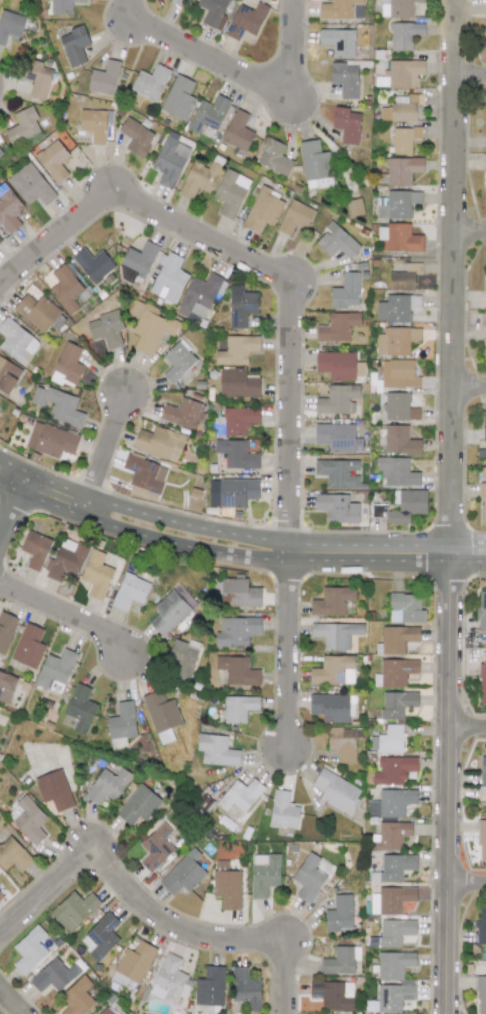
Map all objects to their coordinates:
building: (61, 6)
building: (398, 8)
building: (341, 9)
building: (213, 12)
building: (246, 20)
building: (10, 25)
building: (404, 35)
building: (338, 42)
building: (74, 45)
road: (245, 74)
building: (400, 74)
road: (472, 74)
building: (37, 78)
building: (104, 78)
building: (345, 79)
building: (149, 82)
building: (178, 98)
building: (401, 108)
building: (209, 114)
building: (93, 124)
building: (346, 124)
building: (22, 126)
building: (237, 131)
building: (136, 137)
building: (403, 138)
building: (0, 154)
building: (273, 157)
building: (53, 160)
building: (170, 160)
building: (485, 163)
building: (315, 165)
building: (402, 170)
building: (198, 179)
building: (30, 185)
building: (230, 192)
building: (485, 197)
building: (398, 204)
building: (262, 210)
building: (9, 211)
building: (295, 217)
road: (471, 228)
building: (399, 237)
building: (0, 240)
building: (336, 241)
building: (139, 257)
road: (260, 258)
building: (93, 264)
building: (485, 265)
building: (404, 277)
building: (169, 279)
building: (67, 290)
building: (346, 291)
building: (199, 295)
building: (485, 297)
building: (241, 306)
building: (396, 308)
building: (37, 311)
building: (337, 327)
building: (106, 328)
building: (152, 328)
building: (485, 336)
building: (396, 340)
building: (17, 342)
building: (237, 350)
building: (178, 361)
building: (336, 365)
building: (67, 366)
building: (399, 374)
building: (8, 375)
building: (238, 383)
road: (470, 385)
building: (338, 399)
building: (59, 406)
building: (400, 407)
building: (0, 412)
building: (183, 413)
building: (235, 421)
building: (484, 426)
building: (338, 437)
building: (51, 440)
building: (400, 441)
building: (159, 443)
road: (107, 454)
building: (237, 454)
building: (397, 471)
building: (337, 472)
building: (145, 473)
building: (236, 492)
building: (483, 500)
road: (13, 503)
road: (127, 505)
building: (408, 506)
road: (453, 506)
building: (337, 508)
road: (128, 528)
building: (35, 549)
road: (371, 555)
building: (66, 560)
building: (96, 575)
building: (130, 591)
building: (239, 593)
building: (332, 601)
building: (405, 608)
road: (67, 612)
building: (168, 612)
building: (481, 612)
building: (6, 630)
building: (236, 631)
building: (336, 634)
building: (397, 639)
building: (28, 646)
road: (290, 651)
building: (183, 657)
building: (237, 670)
building: (333, 670)
building: (55, 671)
building: (394, 672)
building: (483, 684)
building: (6, 686)
building: (397, 703)
building: (332, 707)
building: (80, 708)
building: (238, 708)
building: (161, 715)
building: (121, 725)
road: (468, 727)
building: (387, 740)
building: (342, 743)
building: (216, 750)
building: (393, 769)
building: (483, 771)
building: (107, 785)
building: (53, 790)
building: (336, 791)
building: (240, 795)
building: (391, 803)
building: (138, 805)
building: (283, 810)
building: (27, 820)
building: (391, 836)
building: (482, 839)
building: (155, 847)
building: (13, 854)
building: (395, 867)
building: (183, 873)
building: (264, 874)
building: (310, 876)
road: (467, 882)
building: (227, 889)
building: (1, 895)
building: (391, 899)
road: (149, 907)
building: (74, 910)
building: (339, 914)
building: (480, 926)
building: (393, 933)
building: (101, 937)
building: (29, 950)
building: (341, 960)
building: (133, 963)
building: (54, 975)
building: (169, 980)
building: (406, 982)
building: (210, 987)
building: (245, 989)
building: (333, 994)
building: (481, 995)
building: (77, 997)
road: (13, 998)
building: (104, 1011)

